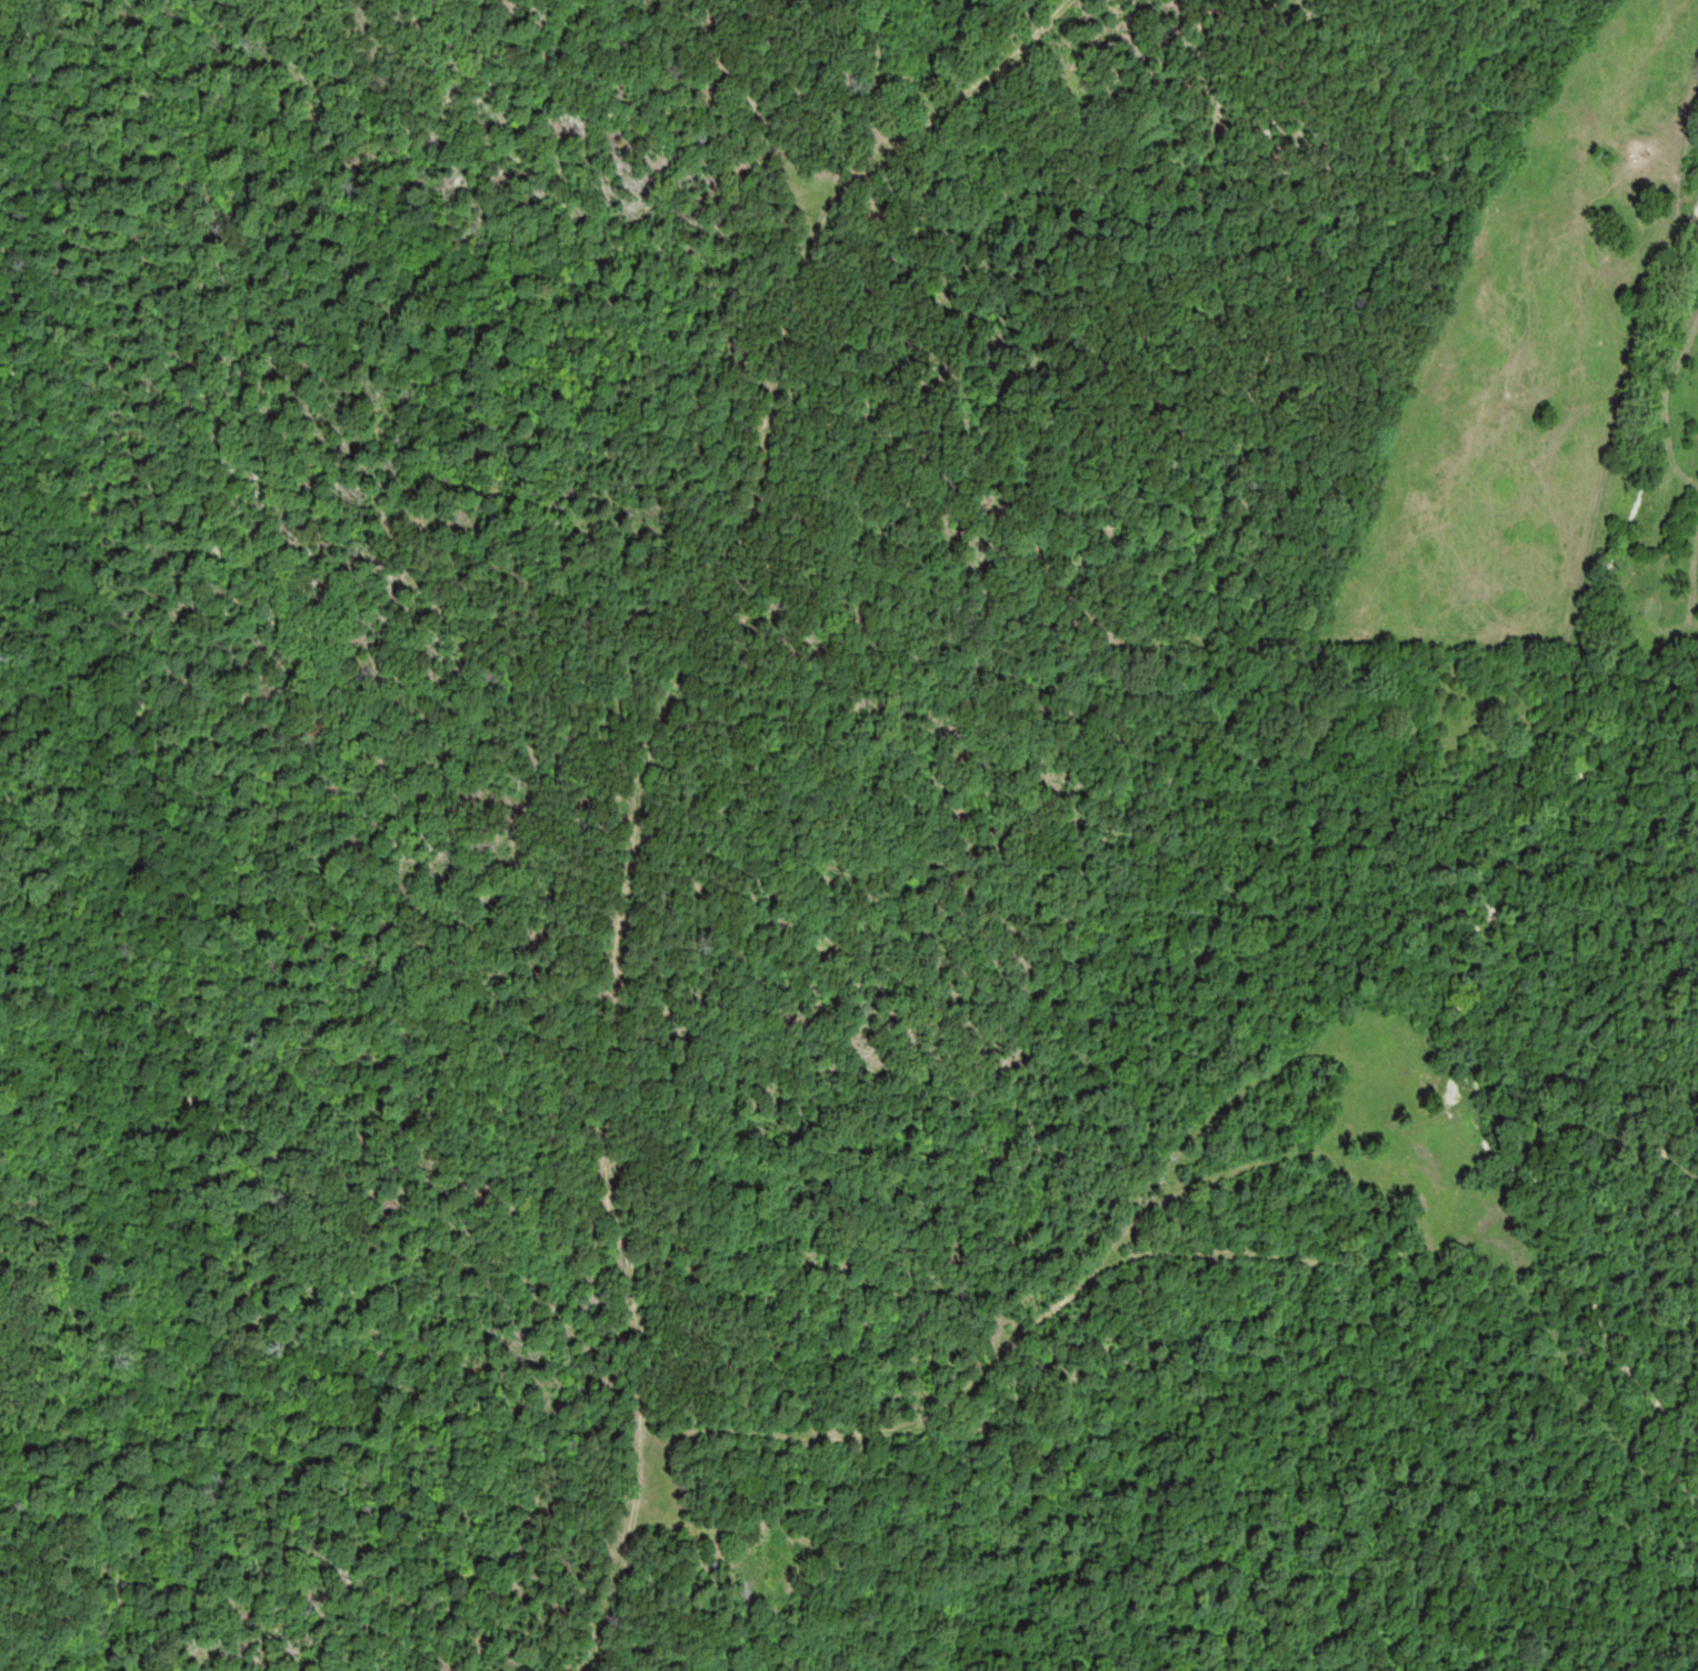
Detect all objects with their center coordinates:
road: (640, 768)

